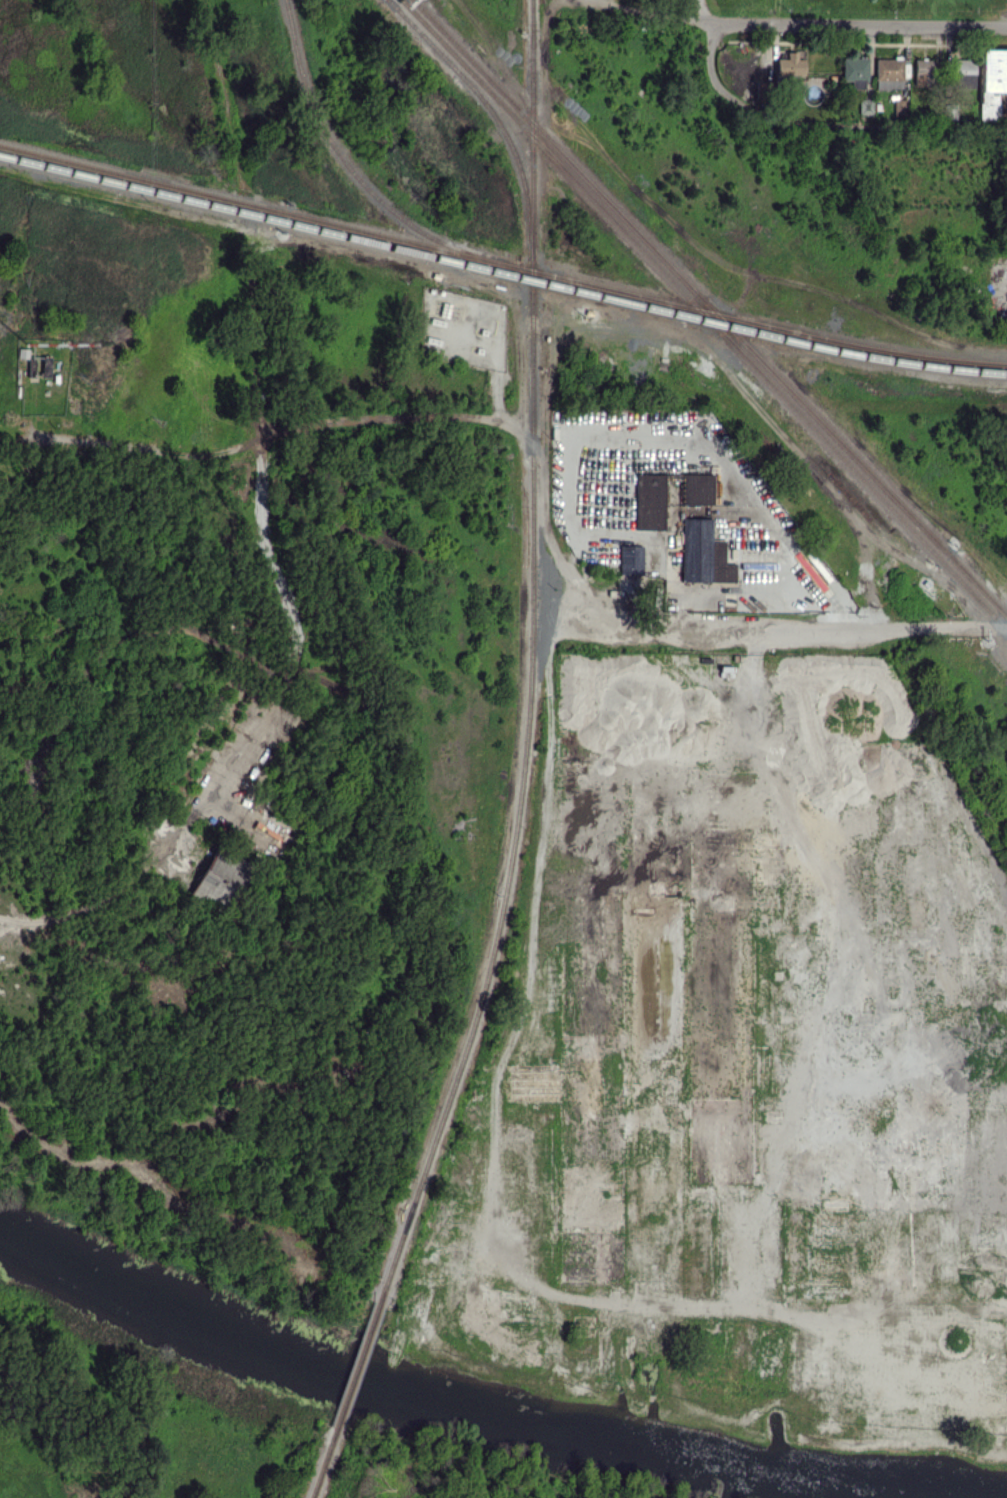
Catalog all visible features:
road: (655, 15)
road: (860, 25)
railway: (904, 25)
railway: (884, 40)
railway: (869, 56)
building: (790, 65)
building: (924, 71)
building: (855, 72)
building: (888, 73)
building: (992, 81)
road: (723, 87)
park: (155, 90)
building: (865, 106)
railway: (490, 112)
road: (908, 130)
railway: (356, 176)
railway: (501, 264)
railway: (502, 273)
railway: (710, 308)
railway: (704, 315)
building: (46, 366)
building: (697, 488)
building: (649, 501)
building: (703, 553)
building: (630, 559)
road: (835, 628)
railway: (532, 660)
building: (222, 878)
railway: (359, 1366)
river: (478, 1415)
railway: (325, 1465)

